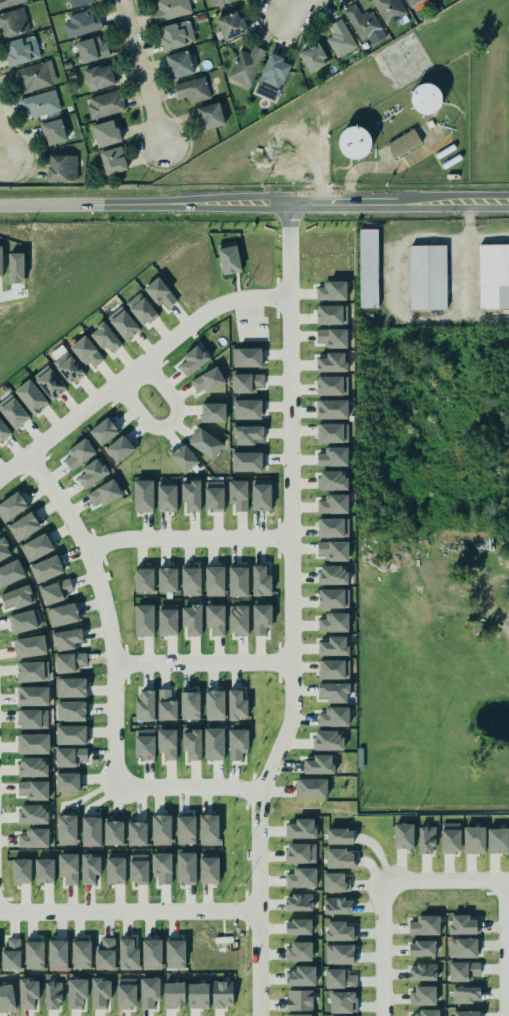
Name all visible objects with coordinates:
building: (10, 2)
building: (79, 2)
building: (221, 2)
building: (414, 3)
building: (170, 9)
road: (281, 9)
road: (298, 9)
building: (389, 10)
building: (362, 22)
building: (13, 23)
building: (80, 24)
building: (232, 25)
building: (175, 35)
building: (340, 38)
building: (92, 49)
building: (22, 50)
building: (312, 58)
building: (178, 64)
building: (245, 65)
road: (141, 72)
building: (273, 73)
building: (35, 76)
building: (99, 77)
building: (192, 90)
building: (39, 103)
building: (105, 104)
building: (210, 116)
building: (54, 132)
building: (106, 133)
road: (4, 147)
building: (112, 162)
building: (61, 169)
road: (254, 202)
building: (336, 244)
building: (258, 256)
building: (229, 257)
building: (1, 261)
building: (206, 266)
building: (335, 267)
building: (368, 273)
building: (494, 276)
building: (428, 277)
building: (183, 279)
building: (332, 290)
building: (161, 293)
building: (141, 309)
building: (332, 314)
building: (124, 324)
building: (249, 333)
building: (106, 337)
building: (332, 337)
building: (87, 352)
building: (249, 356)
building: (193, 360)
building: (333, 362)
road: (138, 368)
building: (69, 369)
building: (207, 380)
building: (248, 382)
building: (50, 383)
building: (332, 385)
building: (31, 397)
building: (247, 408)
building: (333, 409)
building: (213, 412)
building: (14, 415)
road: (171, 426)
building: (104, 430)
building: (4, 431)
building: (333, 432)
building: (248, 434)
building: (205, 442)
building: (124, 449)
building: (78, 455)
building: (333, 457)
building: (184, 458)
building: (247, 461)
building: (92, 473)
building: (333, 480)
building: (104, 494)
building: (238, 494)
building: (261, 494)
building: (143, 495)
building: (166, 495)
building: (190, 495)
building: (214, 495)
building: (333, 504)
building: (12, 506)
building: (24, 526)
building: (333, 527)
road: (189, 540)
building: (37, 547)
building: (4, 549)
building: (333, 550)
building: (47, 567)
building: (11, 572)
building: (333, 574)
building: (144, 579)
building: (167, 579)
building: (214, 580)
building: (260, 580)
building: (191, 581)
building: (238, 581)
building: (57, 590)
building: (17, 597)
building: (333, 598)
road: (460, 608)
road: (106, 611)
road: (292, 612)
building: (63, 614)
building: (191, 618)
building: (215, 619)
building: (261, 619)
building: (24, 620)
building: (144, 620)
building: (238, 620)
building: (168, 621)
building: (334, 622)
building: (67, 639)
building: (31, 646)
building: (334, 646)
building: (70, 662)
road: (203, 663)
building: (334, 669)
building: (32, 671)
building: (72, 687)
building: (334, 691)
building: (33, 695)
building: (166, 704)
building: (237, 704)
building: (145, 705)
building: (190, 705)
building: (215, 705)
building: (72, 711)
building: (334, 716)
building: (33, 718)
building: (72, 734)
building: (329, 740)
building: (33, 743)
building: (167, 743)
building: (192, 743)
building: (214, 743)
building: (237, 743)
building: (144, 744)
building: (70, 756)
building: (319, 764)
building: (34, 766)
building: (68, 782)
building: (312, 788)
building: (34, 789)
road: (190, 790)
building: (34, 813)
building: (302, 828)
building: (67, 829)
building: (161, 829)
building: (186, 829)
building: (209, 829)
building: (91, 831)
building: (113, 832)
building: (137, 833)
building: (340, 836)
building: (34, 837)
building: (450, 837)
building: (427, 839)
building: (474, 839)
building: (497, 840)
building: (302, 853)
building: (340, 858)
building: (162, 867)
building: (68, 868)
building: (90, 868)
building: (138, 868)
building: (186, 868)
building: (209, 869)
building: (44, 870)
building: (115, 870)
building: (21, 871)
building: (301, 877)
building: (334, 881)
road: (447, 883)
building: (299, 902)
building: (338, 905)
road: (129, 911)
building: (424, 925)
building: (299, 926)
building: (341, 930)
building: (463, 947)
building: (421, 948)
road: (507, 949)
building: (202, 950)
road: (385, 950)
building: (298, 951)
building: (10, 953)
building: (128, 953)
building: (175, 953)
building: (340, 953)
building: (34, 954)
building: (58, 954)
building: (81, 954)
building: (105, 954)
building: (152, 954)
building: (225, 954)
building: (464, 970)
building: (422, 971)
building: (301, 975)
building: (341, 978)
building: (149, 991)
building: (77, 992)
building: (100, 992)
building: (28, 993)
building: (126, 993)
building: (174, 994)
building: (222, 994)
building: (466, 994)
building: (52, 995)
building: (198, 995)
building: (423, 995)
building: (7, 998)
building: (299, 1000)
building: (342, 1001)
building: (427, 1012)
building: (466, 1013)
building: (298, 1015)
building: (340, 1015)

